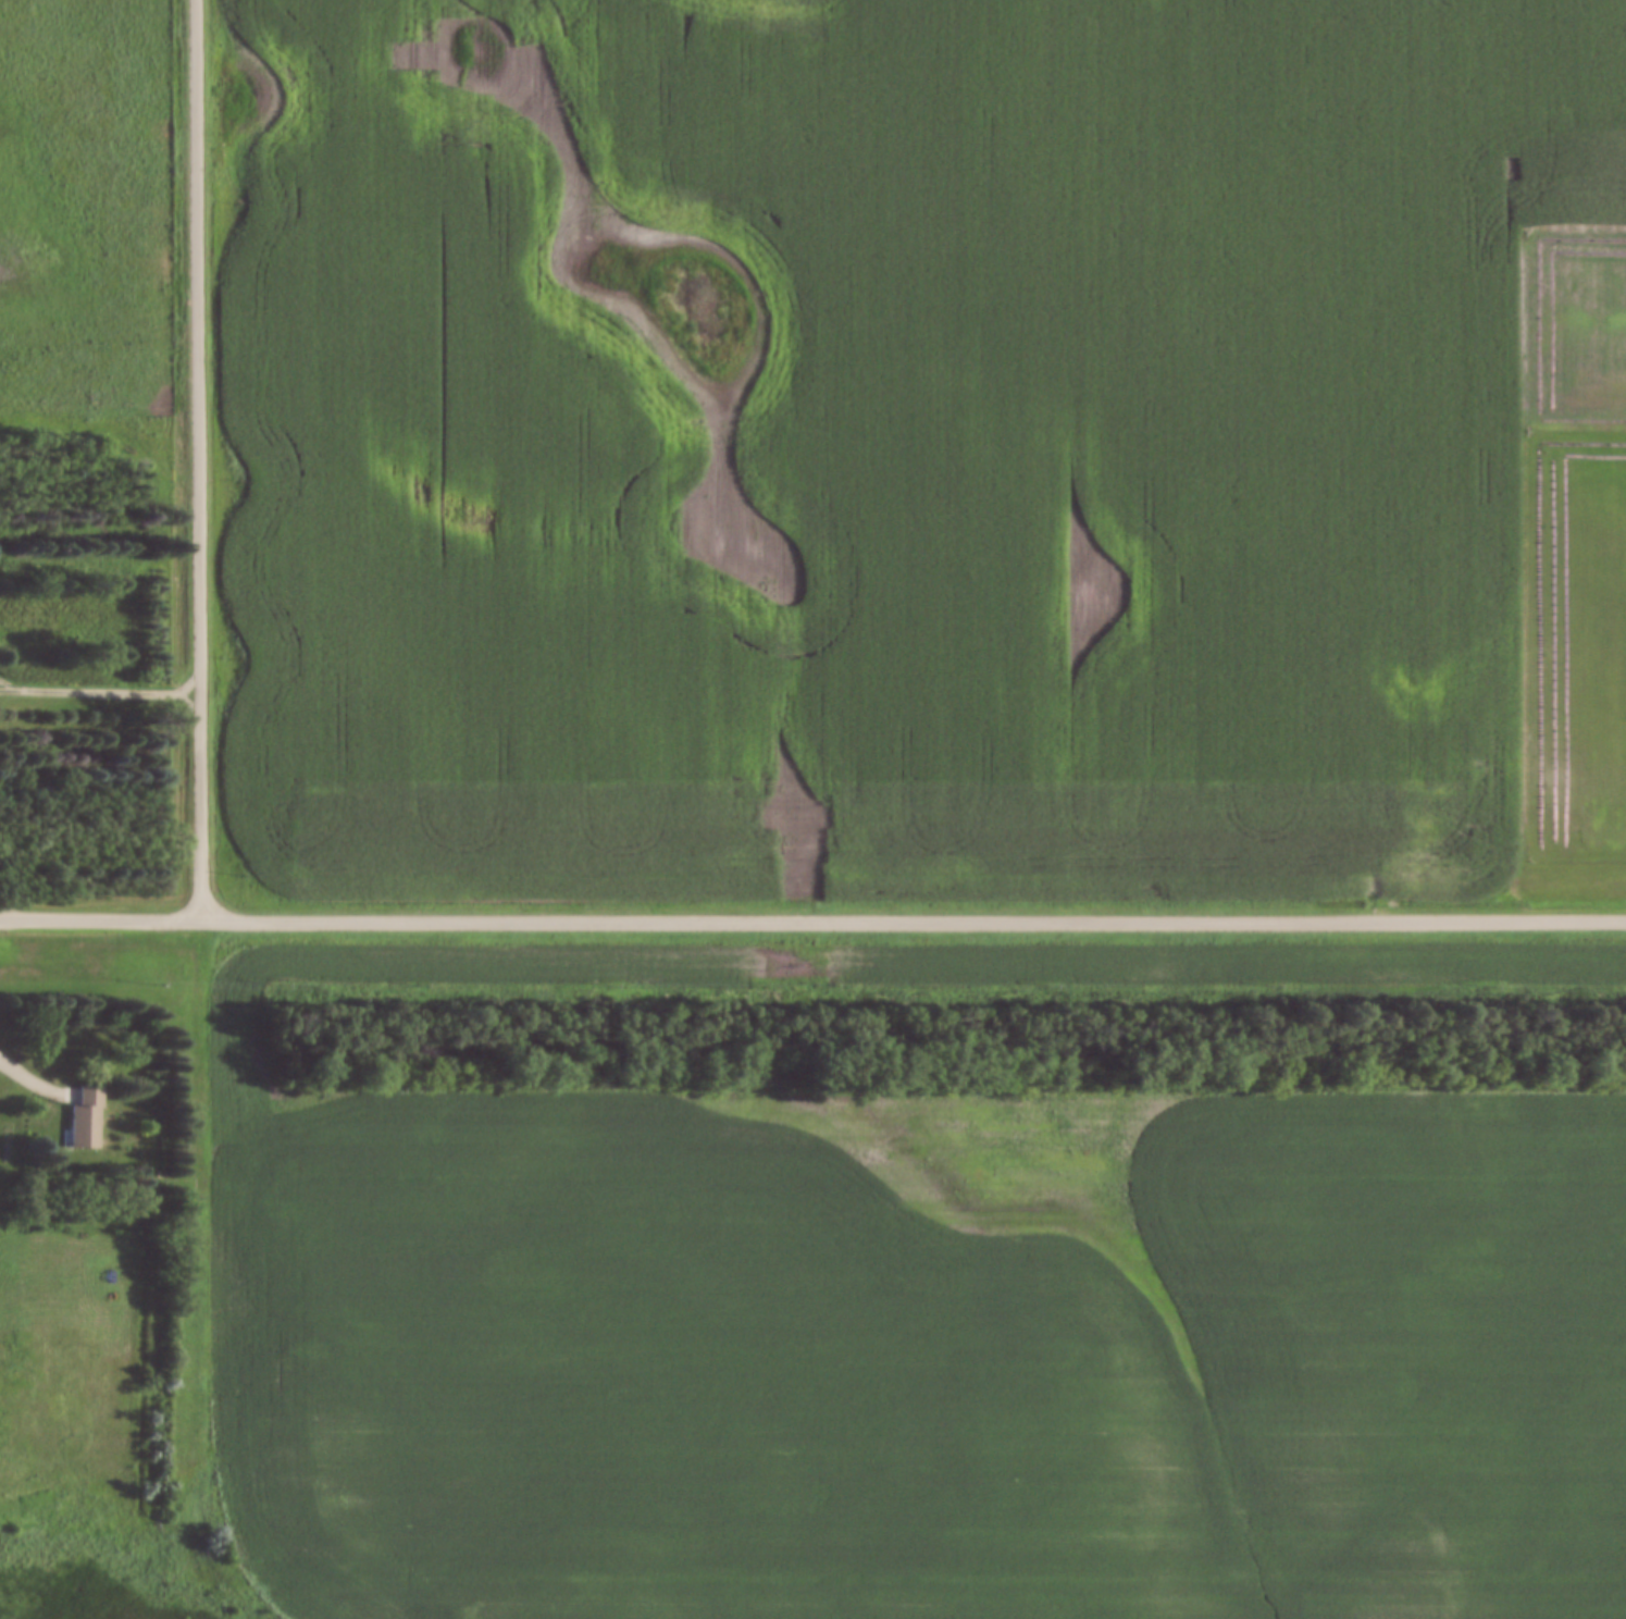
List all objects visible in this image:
road: (198, 462)
road: (100, 696)
road: (812, 927)
road: (26, 1080)
building: (85, 1120)

